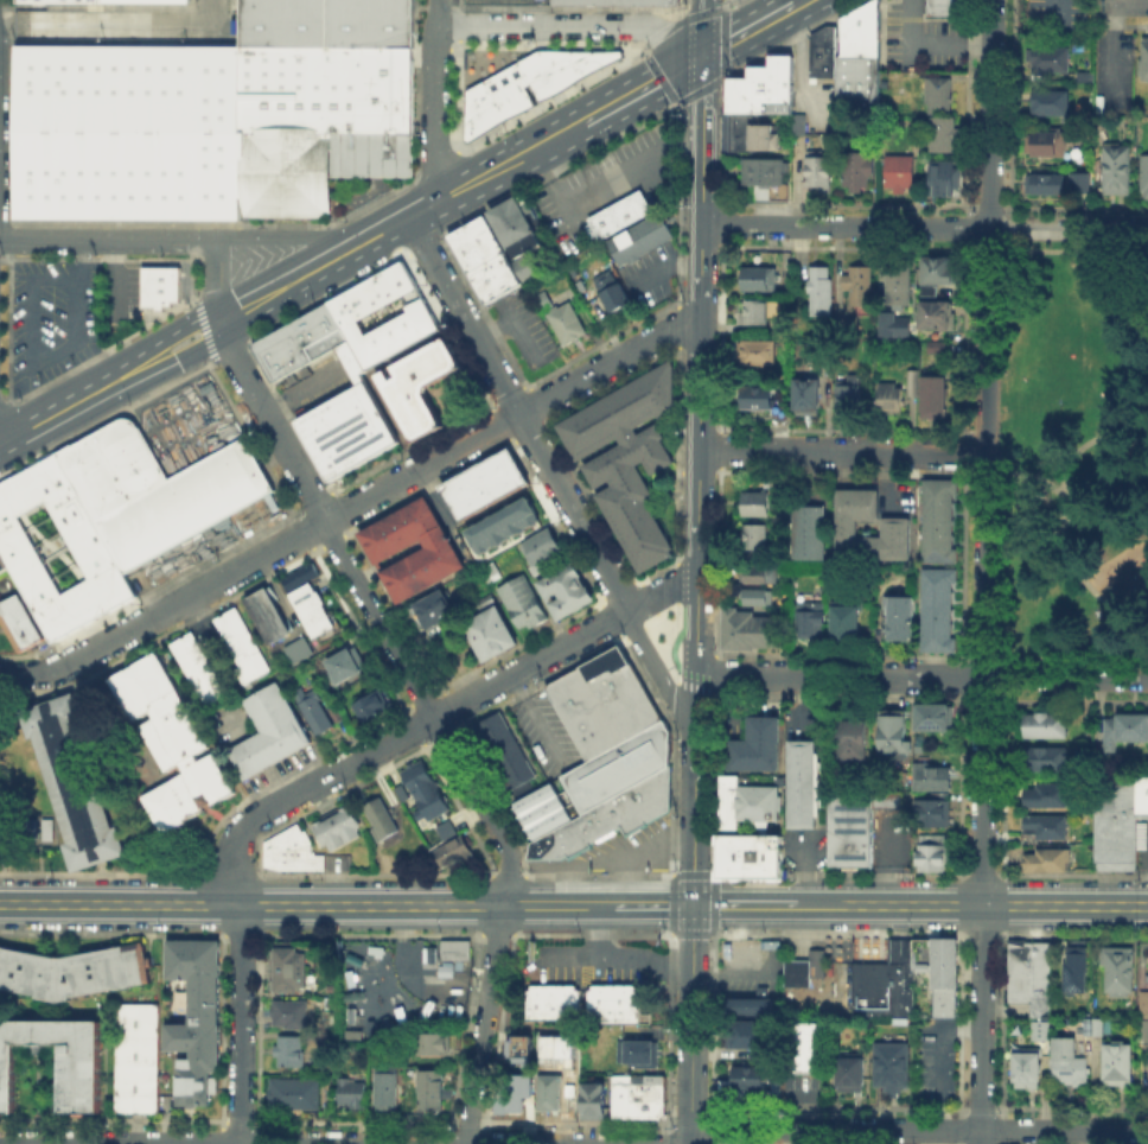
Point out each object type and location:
building: (110, 0)
parking lot: (506, 2)
road: (1127, 4)
building: (613, 5)
road: (791, 7)
building: (946, 7)
road: (1054, 7)
road: (210, 12)
parking lot: (1050, 13)
road: (104, 24)
road: (573, 26)
road: (740, 34)
parking lot: (921, 39)
road: (930, 44)
building: (821, 53)
traffic signals: (702, 56)
building: (1144, 58)
building: (857, 59)
building: (1050, 59)
building: (1086, 78)
building: (761, 88)
road: (638, 89)
parking lot: (900, 91)
building: (496, 95)
building: (938, 95)
road: (434, 98)
building: (1050, 103)
road: (703, 113)
road: (989, 114)
building: (802, 126)
building: (748, 133)
building: (943, 134)
building: (1044, 144)
road: (639, 154)
building: (1116, 170)
building: (763, 172)
building: (854, 172)
building: (898, 172)
building: (816, 173)
building: (1143, 177)
building: (283, 178)
building: (942, 178)
building: (1086, 180)
road: (468, 184)
parking lot: (607, 184)
building: (1045, 184)
building: (619, 214)
road: (924, 228)
road: (291, 237)
road: (109, 239)
building: (638, 239)
building: (495, 252)
building: (935, 268)
parking lot: (651, 275)
road: (221, 279)
building: (759, 279)
road: (110, 280)
road: (293, 282)
building: (159, 284)
parking lot: (132, 286)
building: (860, 286)
building: (901, 288)
building: (612, 293)
building: (823, 293)
road: (27, 295)
building: (753, 312)
road: (76, 313)
building: (935, 314)
parking lot: (52, 318)
building: (562, 323)
building: (894, 324)
road: (179, 326)
building: (846, 326)
road: (202, 329)
parking lot: (527, 330)
building: (939, 349)
road: (191, 350)
building: (757, 351)
building: (817, 352)
building: (355, 364)
building: (912, 382)
parking lot: (317, 386)
building: (425, 387)
building: (805, 393)
building: (848, 394)
building: (752, 396)
building: (889, 396)
building: (933, 398)
road: (74, 401)
road: (516, 414)
road: (2, 437)
road: (1091, 443)
road: (697, 451)
road: (841, 451)
park: (1073, 451)
road: (983, 453)
building: (626, 457)
road: (1106, 468)
road: (1143, 469)
road: (1041, 478)
building: (481, 483)
building: (153, 489)
parking lot: (898, 497)
road: (1125, 497)
road: (352, 501)
building: (754, 503)
building: (519, 514)
building: (938, 520)
building: (894, 526)
building: (808, 532)
building: (79, 536)
building: (751, 536)
building: (503, 544)
building: (540, 546)
road: (56, 548)
building: (435, 555)
building: (1, 565)
road: (1079, 570)
building: (487, 572)
building: (758, 573)
building: (298, 574)
building: (563, 590)
road: (659, 591)
building: (754, 597)
building: (521, 603)
building: (315, 610)
building: (937, 610)
building: (430, 611)
road: (371, 612)
building: (272, 617)
building: (898, 617)
building: (808, 621)
building: (846, 621)
building: (18, 624)
building: (747, 631)
building: (489, 634)
building: (872, 640)
building: (245, 643)
building: (305, 648)
building: (347, 665)
building: (200, 669)
road: (659, 673)
road: (921, 678)
building: (366, 699)
building: (321, 710)
building: (933, 717)
building: (1044, 724)
building: (1124, 730)
building: (892, 732)
building: (275, 733)
parking lot: (546, 733)
road: (397, 738)
building: (849, 739)
building: (172, 743)
building: (750, 748)
building: (500, 752)
building: (1046, 760)
building: (601, 762)
building: (932, 776)
building: (76, 782)
building: (804, 786)
building: (422, 789)
road: (694, 790)
building: (1045, 795)
building: (885, 797)
building: (1143, 799)
building: (755, 801)
building: (726, 803)
building: (931, 814)
building: (383, 821)
building: (1116, 824)
building: (1045, 826)
building: (445, 828)
building: (340, 830)
building: (848, 831)
parking lot: (889, 840)
parking lot: (803, 849)
parking lot: (619, 851)
building: (293, 852)
building: (451, 854)
building: (932, 854)
building: (745, 858)
building: (1047, 860)
road: (574, 905)
traffic signals: (694, 905)
road: (981, 911)
building: (457, 948)
road: (618, 955)
parking lot: (597, 960)
parking lot: (747, 965)
building: (1118, 967)
building: (286, 970)
building: (936, 970)
building: (1074, 970)
building: (806, 973)
building: (75, 974)
building: (1027, 979)
building: (882, 983)
parking lot: (398, 987)
building: (1144, 999)
building: (607, 1000)
building: (553, 1002)
building: (744, 1006)
building: (288, 1013)
building: (198, 1017)
road: (240, 1024)
road: (483, 1024)
road: (691, 1024)
building: (1099, 1028)
building: (1143, 1028)
building: (1039, 1029)
building: (751, 1034)
building: (428, 1043)
building: (556, 1047)
building: (517, 1048)
building: (808, 1050)
building: (287, 1051)
building: (638, 1055)
building: (139, 1059)
parking lot: (932, 1061)
building: (1069, 1062)
building: (1118, 1062)
building: (893, 1068)
building: (1026, 1069)
building: (853, 1074)
building: (752, 1079)
building: (85, 1081)
building: (384, 1085)
building: (429, 1089)
building: (548, 1089)
building: (350, 1093)
building: (511, 1093)
building: (292, 1095)
building: (638, 1098)
building: (592, 1101)
road: (911, 1131)
road: (120, 1143)

